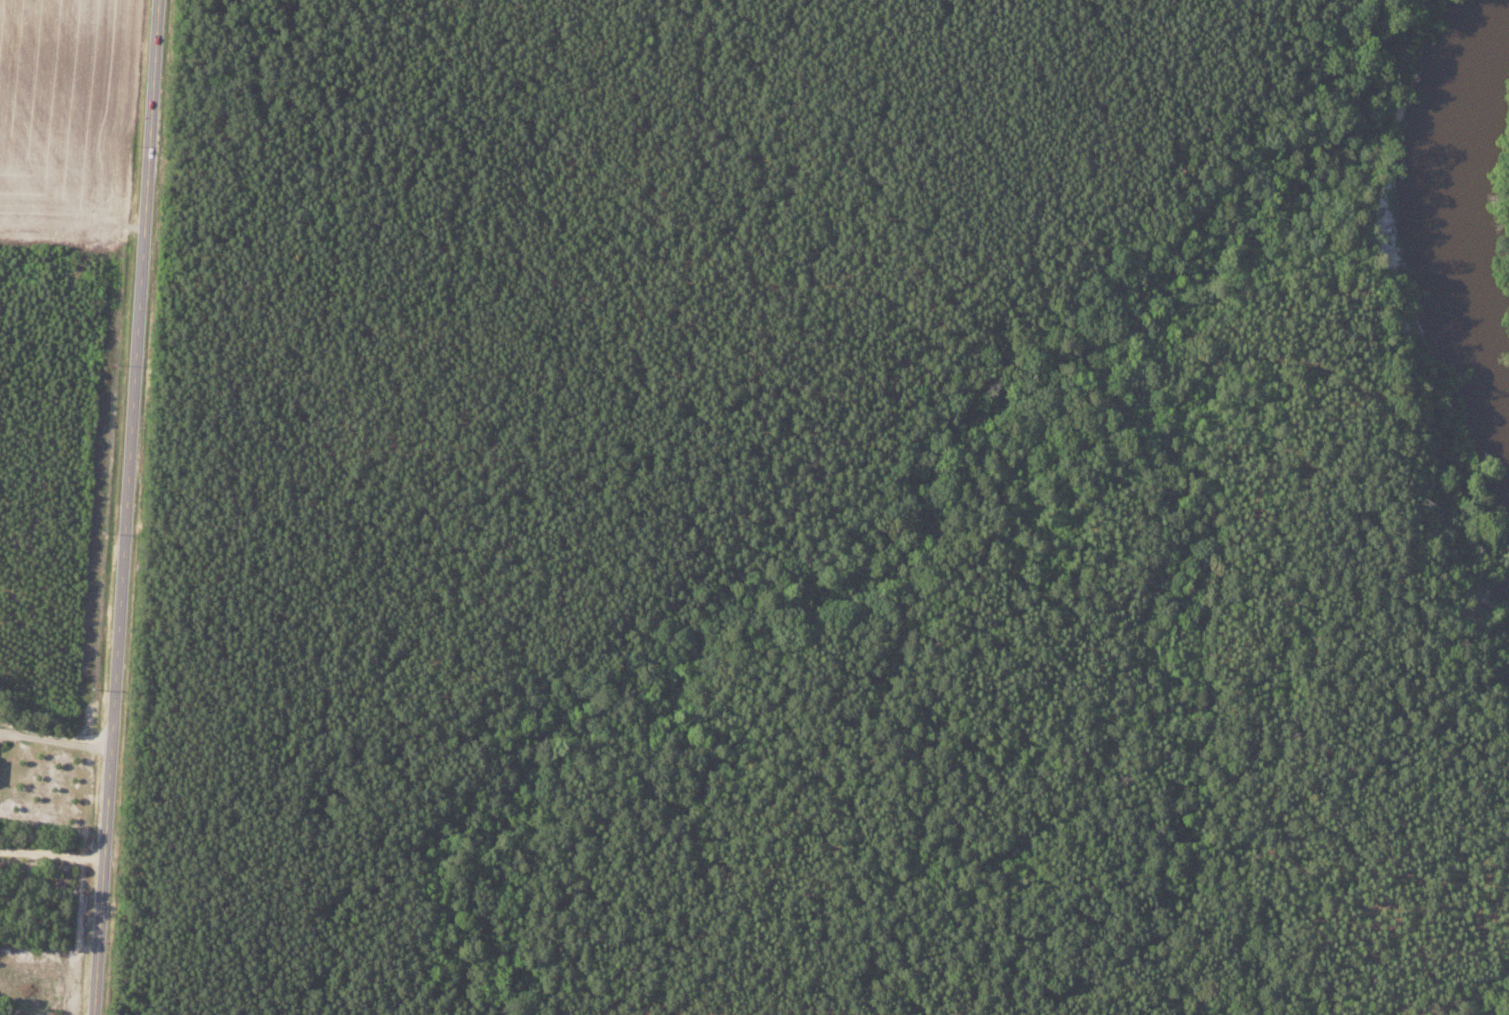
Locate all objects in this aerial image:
river: (1451, 238)
road: (127, 507)
road: (57, 735)
road: (51, 854)

